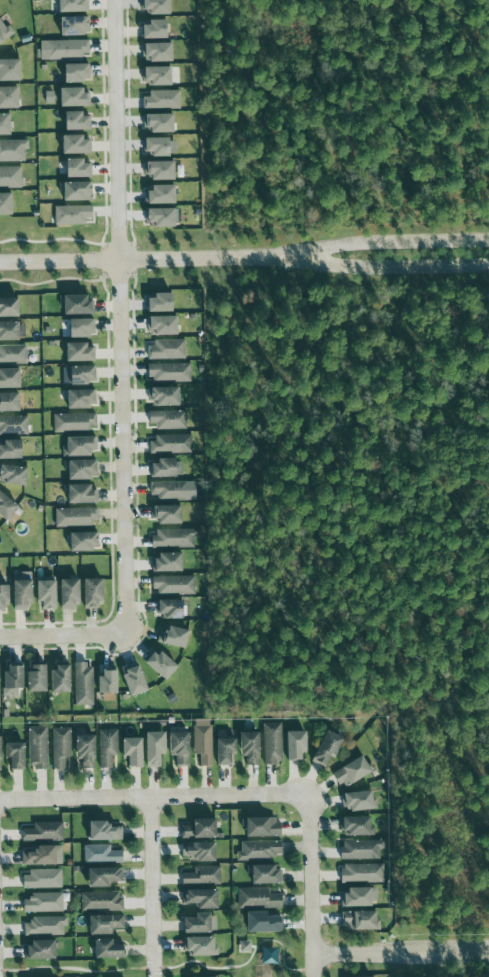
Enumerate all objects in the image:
building: (74, 6)
building: (157, 6)
building: (77, 24)
building: (157, 28)
building: (6, 32)
building: (63, 49)
building: (159, 51)
building: (11, 69)
building: (78, 71)
building: (159, 74)
building: (76, 95)
building: (10, 96)
building: (164, 99)
building: (78, 120)
building: (161, 122)
building: (6, 123)
building: (79, 144)
building: (159, 145)
building: (14, 150)
building: (79, 167)
building: (162, 169)
building: (11, 176)
building: (78, 190)
building: (163, 193)
building: (7, 203)
building: (75, 214)
building: (164, 216)
road: (405, 235)
road: (162, 258)
road: (406, 262)
building: (162, 302)
building: (78, 303)
building: (10, 306)
road: (120, 319)
building: (165, 324)
building: (84, 327)
building: (11, 330)
building: (168, 349)
building: (83, 352)
building: (13, 355)
building: (171, 372)
building: (80, 374)
building: (11, 378)
building: (167, 396)
building: (83, 398)
building: (11, 402)
building: (170, 419)
building: (75, 422)
building: (14, 425)
building: (173, 443)
building: (81, 446)
building: (13, 449)
building: (166, 467)
building: (82, 469)
building: (15, 474)
building: (170, 490)
building: (82, 493)
building: (8, 505)
building: (169, 514)
building: (77, 517)
building: (174, 538)
building: (86, 540)
building: (175, 585)
building: (25, 591)
building: (96, 591)
building: (73, 593)
building: (50, 594)
building: (5, 597)
building: (174, 608)
building: (176, 636)
road: (63, 640)
building: (164, 664)
building: (0, 674)
building: (39, 678)
building: (15, 679)
building: (62, 679)
building: (137, 680)
building: (110, 682)
building: (85, 684)
building: (203, 741)
building: (272, 743)
building: (296, 745)
building: (39, 747)
building: (62, 747)
building: (109, 747)
building: (328, 747)
building: (156, 748)
building: (181, 748)
building: (252, 748)
building: (88, 750)
building: (135, 751)
building: (226, 751)
building: (1, 752)
building: (18, 755)
building: (354, 772)
road: (156, 797)
building: (360, 800)
building: (358, 825)
building: (264, 827)
building: (202, 829)
building: (106, 831)
building: (45, 832)
building: (362, 849)
building: (260, 850)
building: (201, 851)
building: (102, 854)
building: (42, 855)
building: (363, 873)
building: (106, 876)
building: (203, 876)
building: (43, 879)
road: (313, 885)
road: (151, 887)
building: (359, 897)
building: (204, 898)
building: (259, 899)
building: (102, 901)
building: (45, 903)
building: (362, 920)
building: (265, 922)
building: (107, 924)
building: (200, 924)
building: (46, 926)
building: (202, 946)
building: (111, 949)
building: (42, 950)
road: (401, 953)

